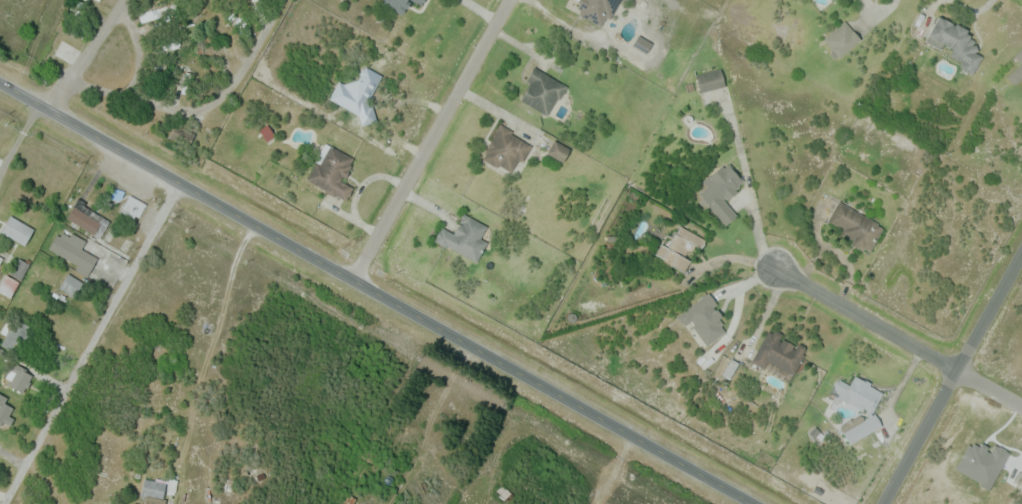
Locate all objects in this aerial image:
building: (98, 0)
building: (99, 0)
building: (418, 1)
building: (423, 1)
building: (397, 5)
building: (596, 10)
road: (882, 12)
building: (153, 15)
building: (841, 40)
building: (956, 42)
building: (66, 49)
road: (87, 53)
building: (1016, 70)
building: (711, 80)
building: (544, 91)
road: (202, 107)
road: (497, 111)
building: (268, 132)
building: (182, 134)
road: (431, 138)
road: (18, 140)
building: (905, 140)
building: (506, 148)
building: (558, 150)
building: (333, 172)
building: (720, 193)
building: (133, 208)
building: (89, 219)
building: (856, 226)
building: (18, 229)
building: (464, 237)
building: (678, 248)
building: (74, 251)
building: (1, 259)
building: (19, 268)
building: (9, 285)
building: (71, 285)
road: (377, 291)
building: (705, 317)
road: (866, 319)
building: (17, 334)
building: (780, 351)
road: (951, 376)
building: (19, 378)
road: (989, 387)
building: (861, 405)
building: (5, 413)
building: (156, 489)

